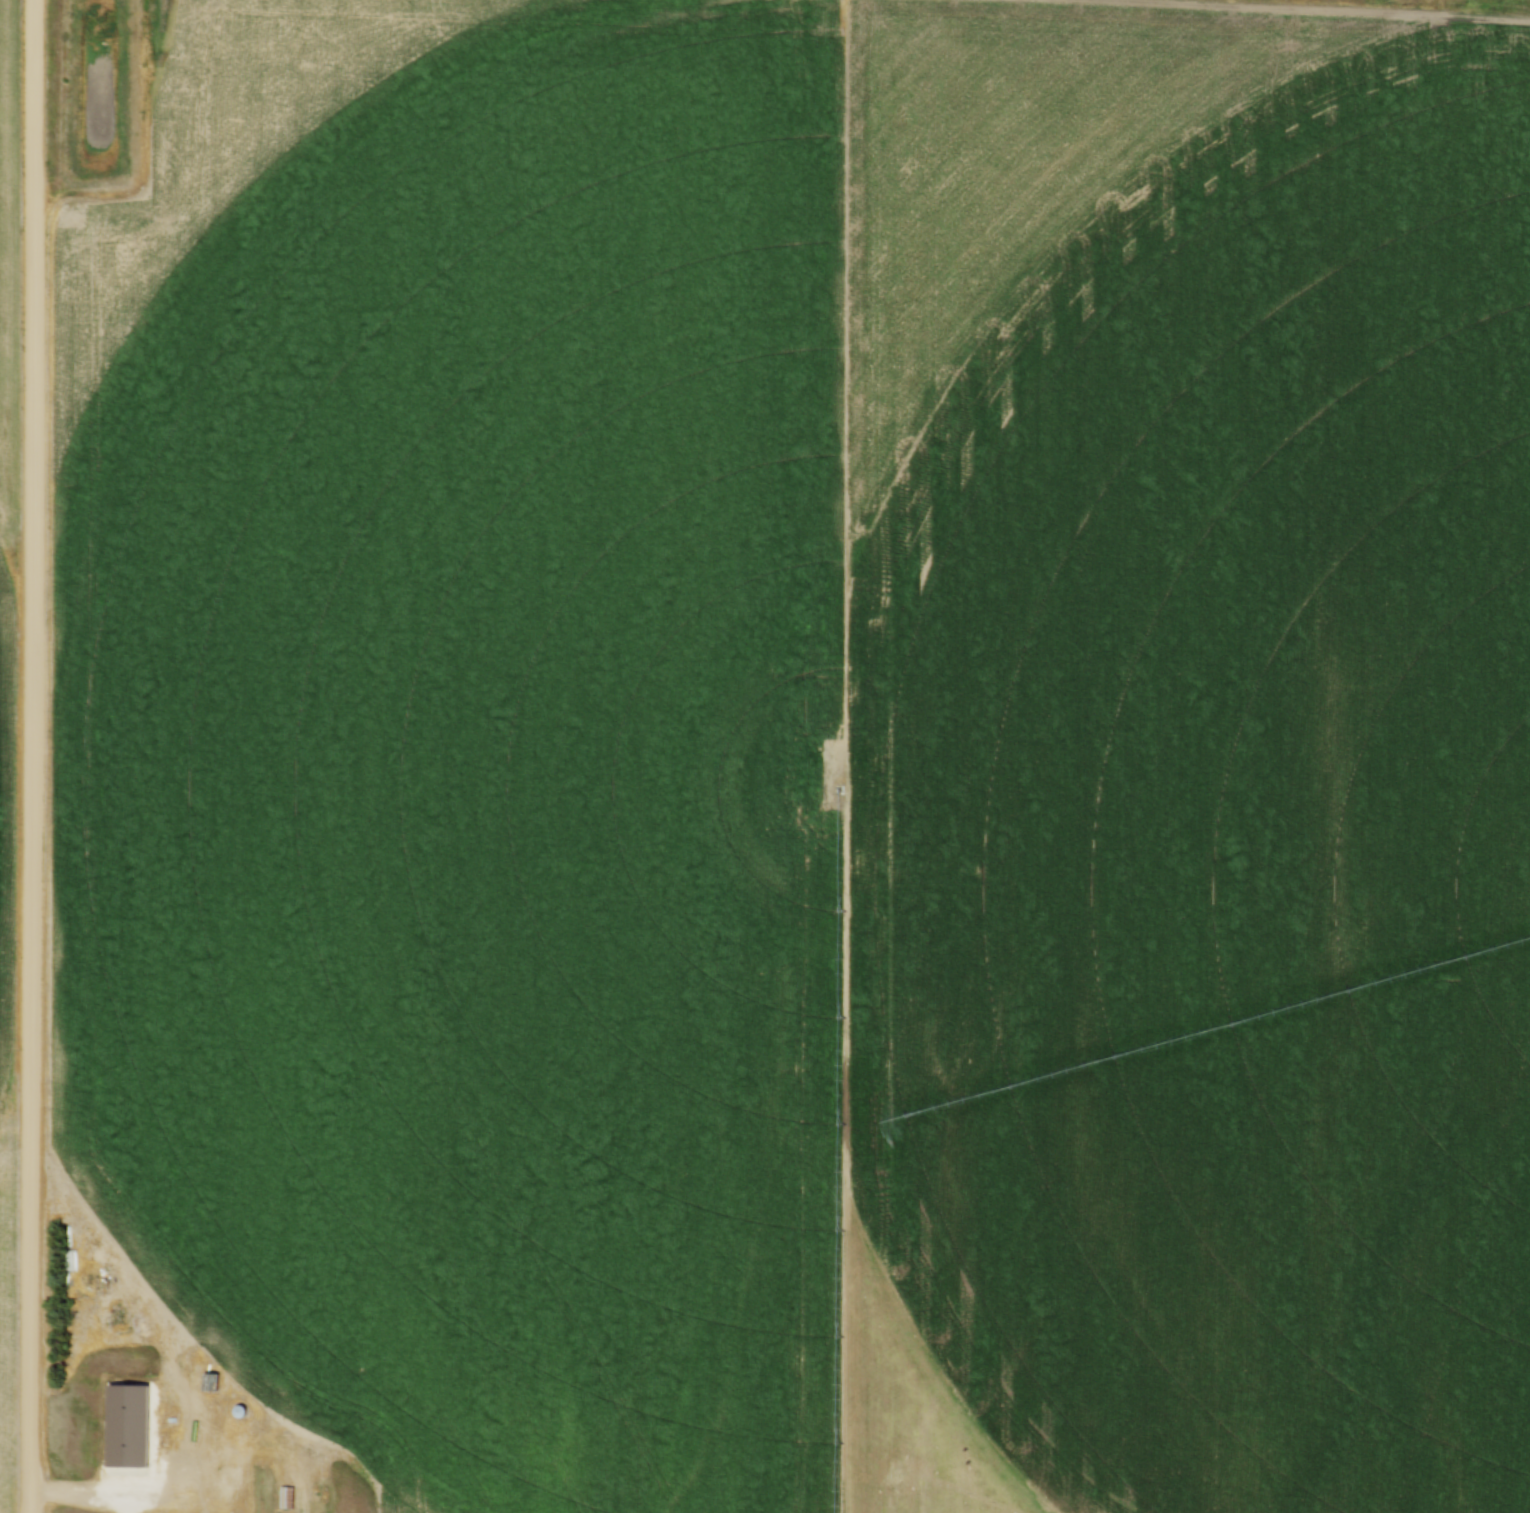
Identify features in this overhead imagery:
crop: (7, 705)
crop: (809, 740)
road: (31, 756)
building: (66, 1260)
building: (211, 1380)
building: (239, 1411)
silo: (239, 1411)
road: (192, 1421)
building: (284, 1497)
road: (301, 1499)

